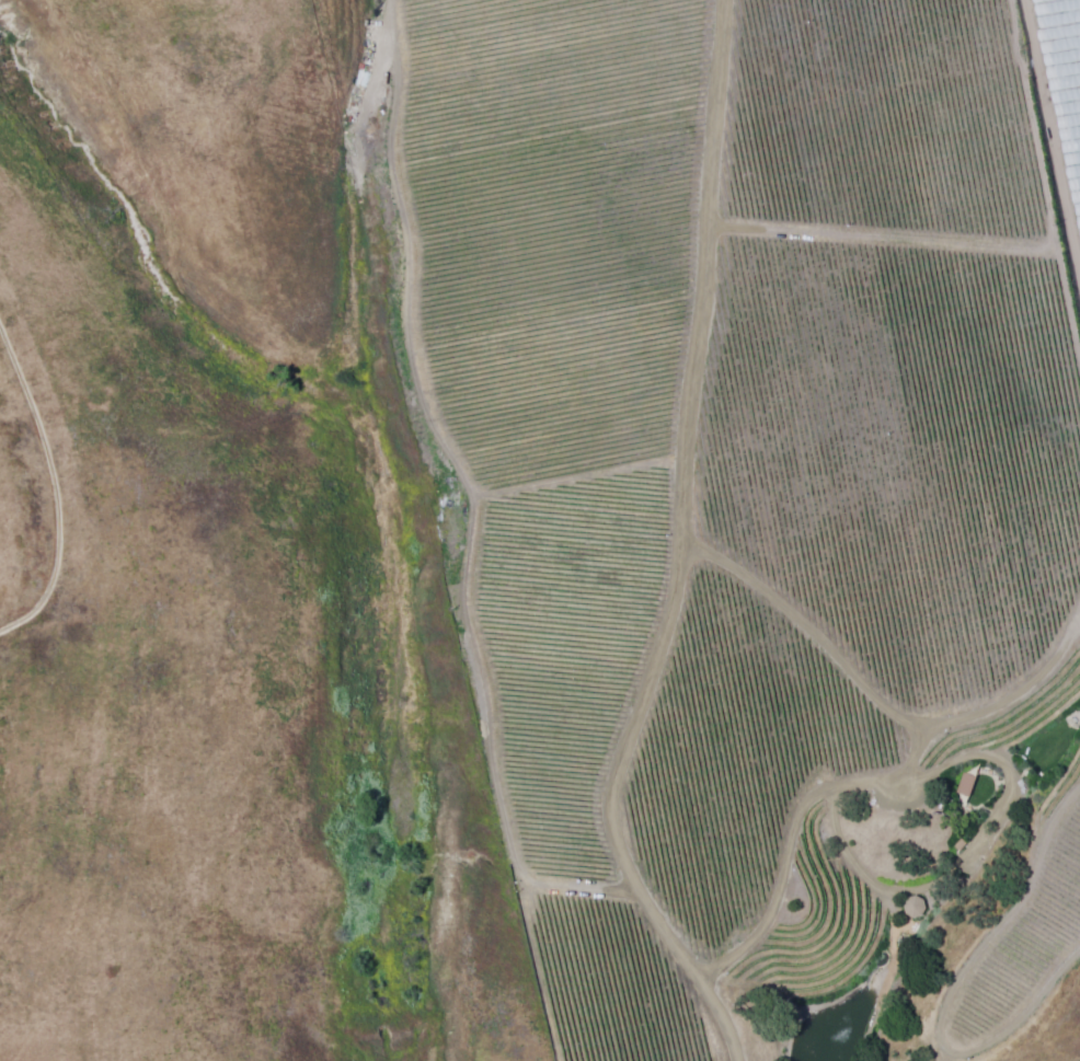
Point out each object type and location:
crop: (147, 696)
building: (964, 783)
building: (910, 906)

